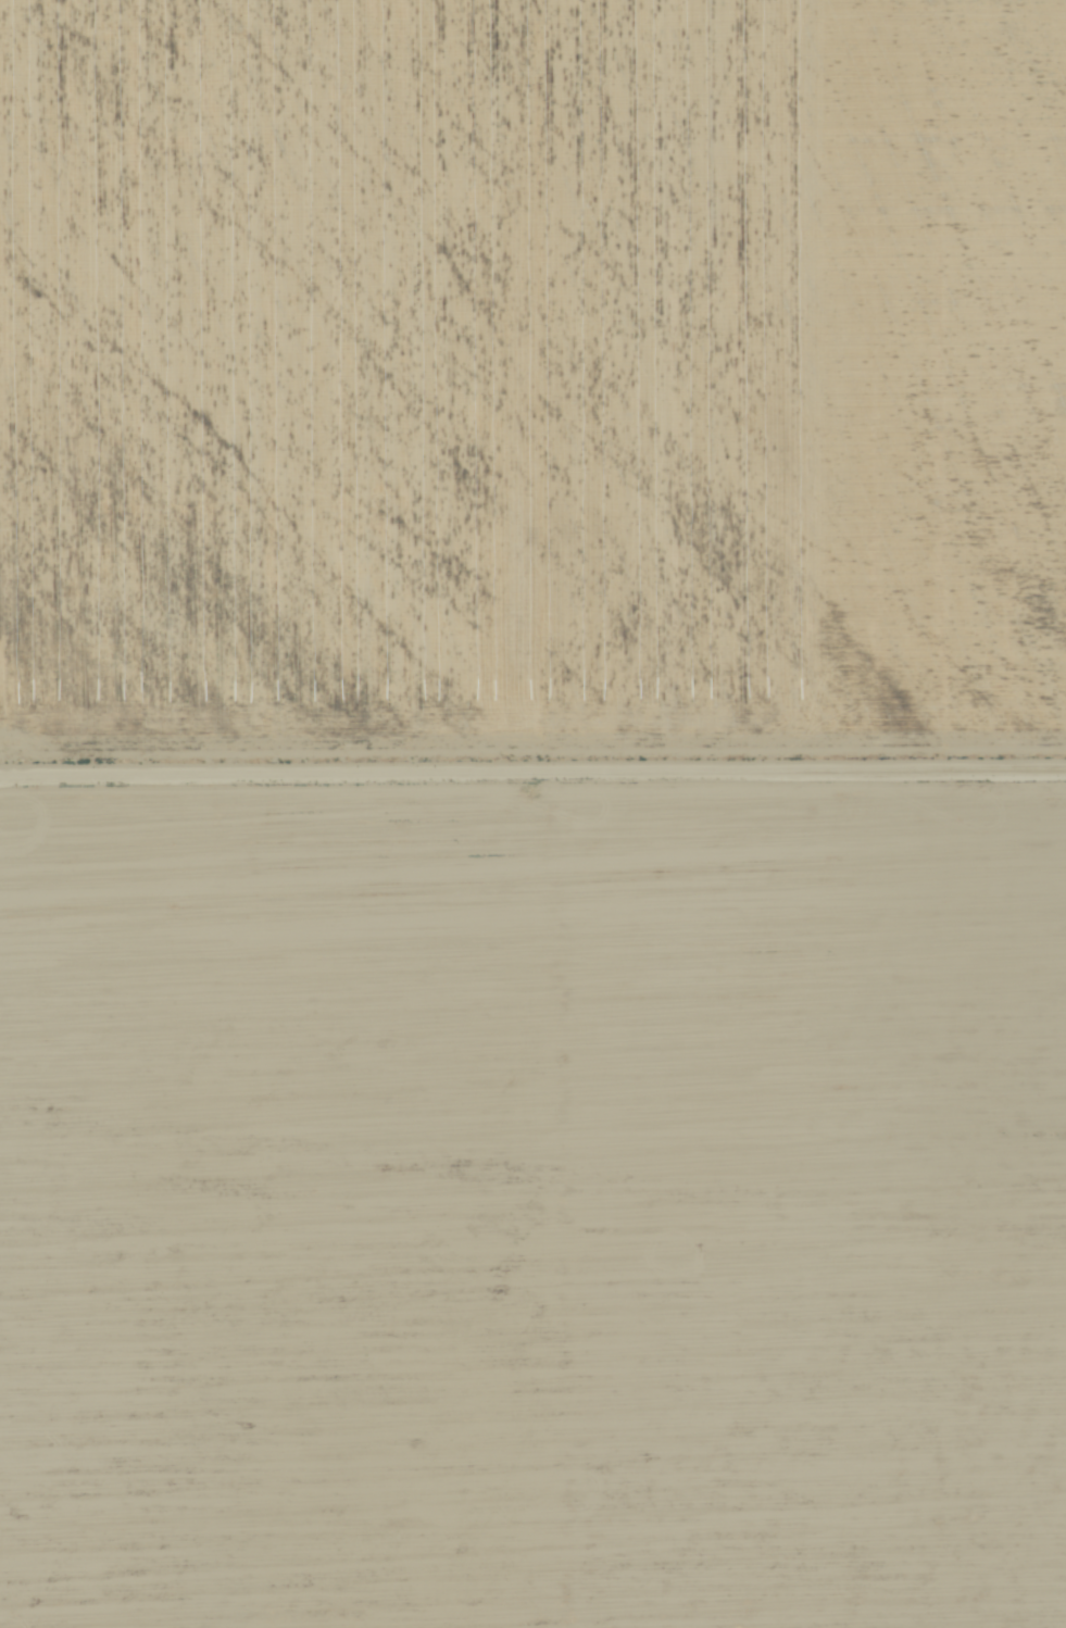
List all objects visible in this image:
road: (532, 781)

